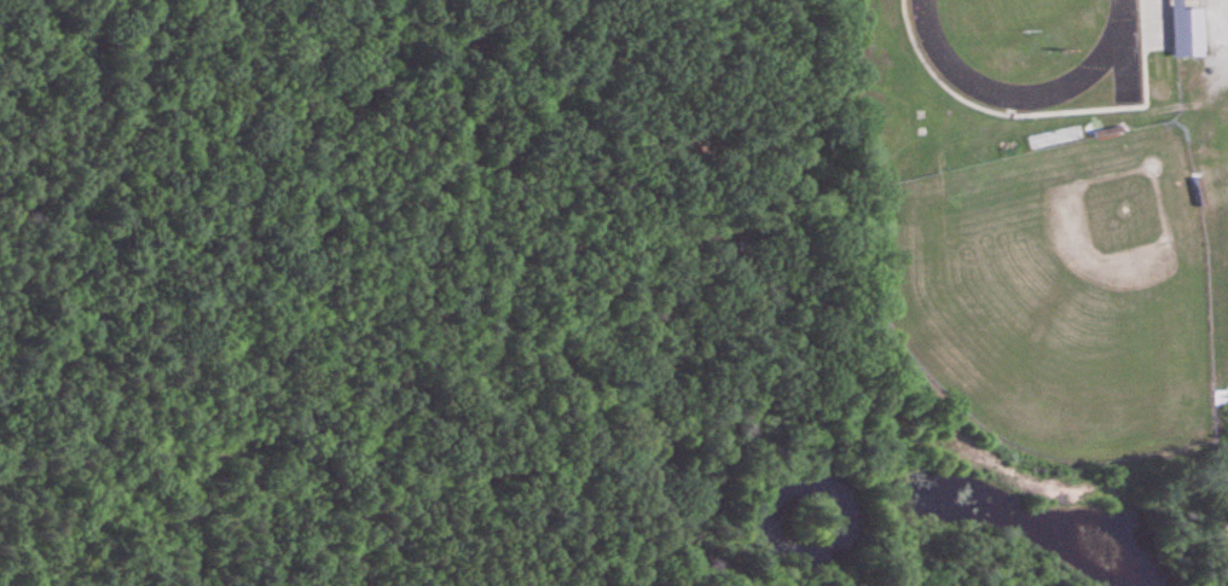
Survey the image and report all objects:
building: (1187, 33)
track: (1112, 54)
park: (1055, 295)

